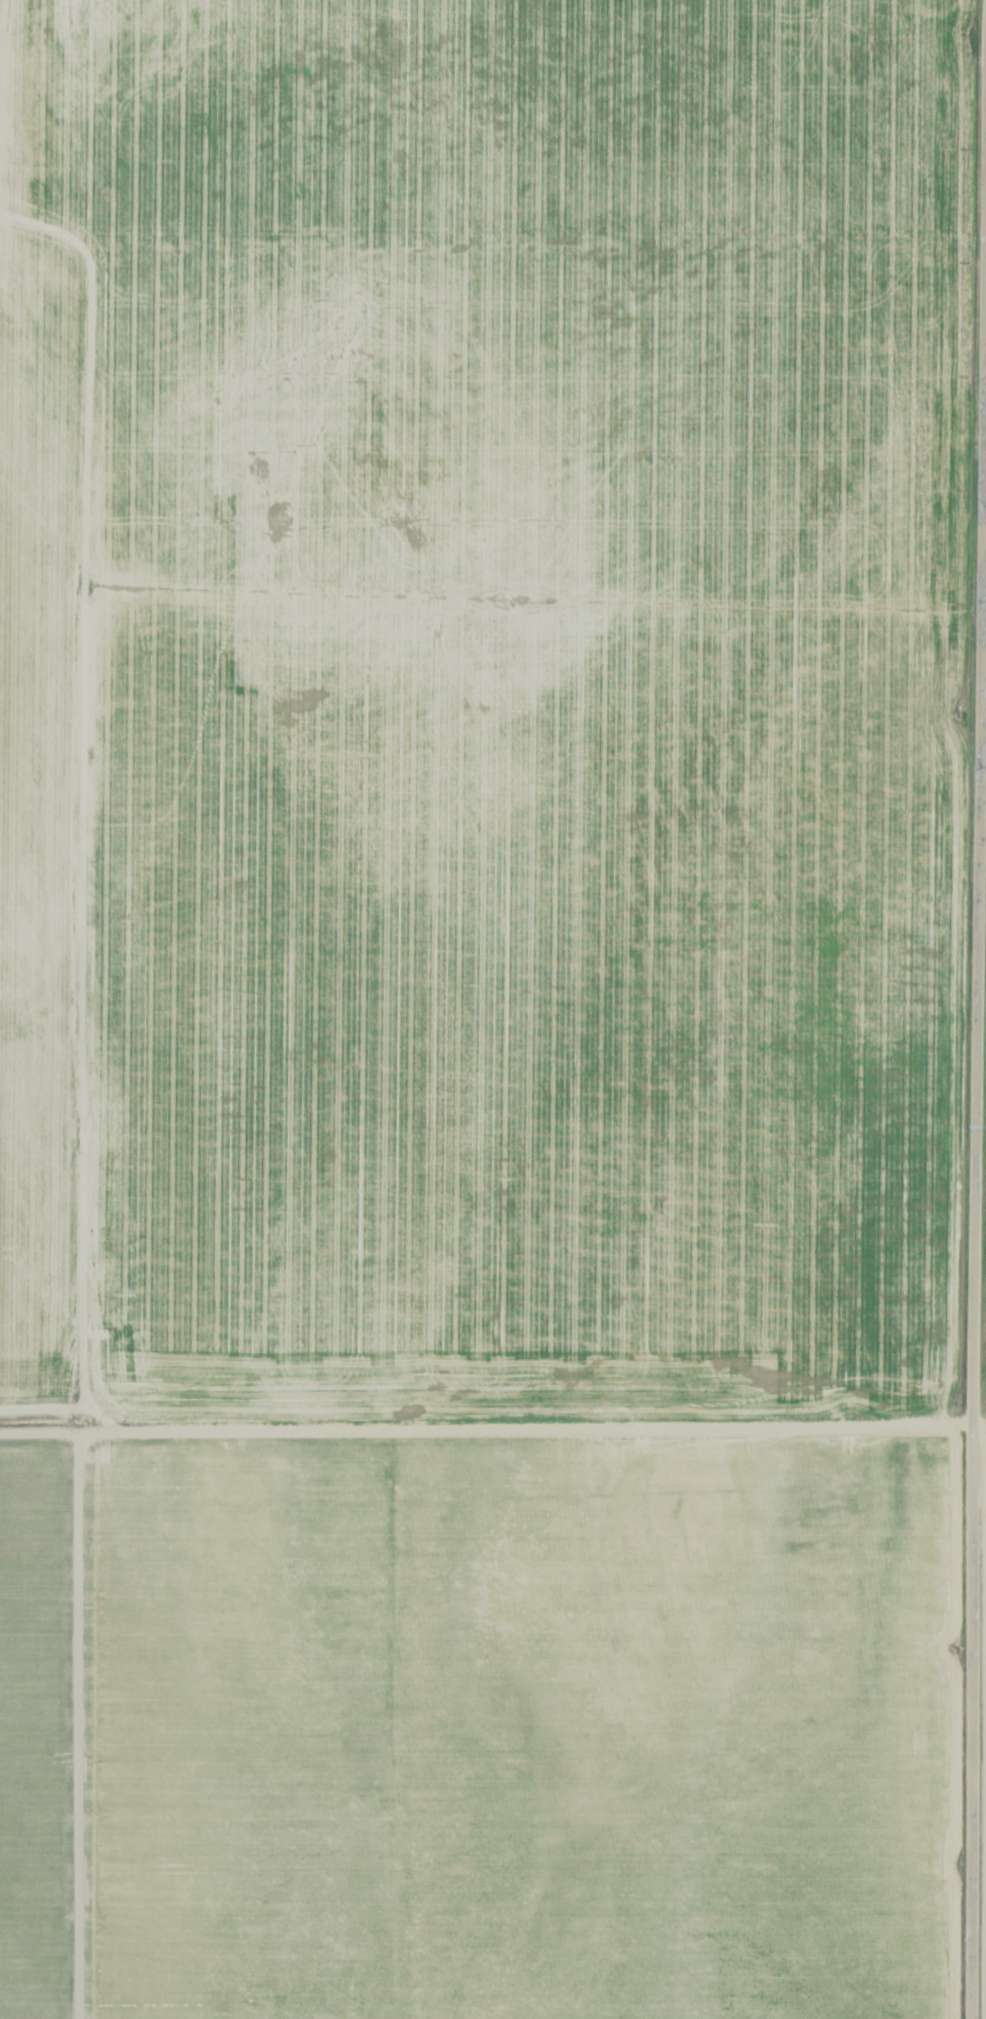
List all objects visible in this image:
road: (974, 1047)

